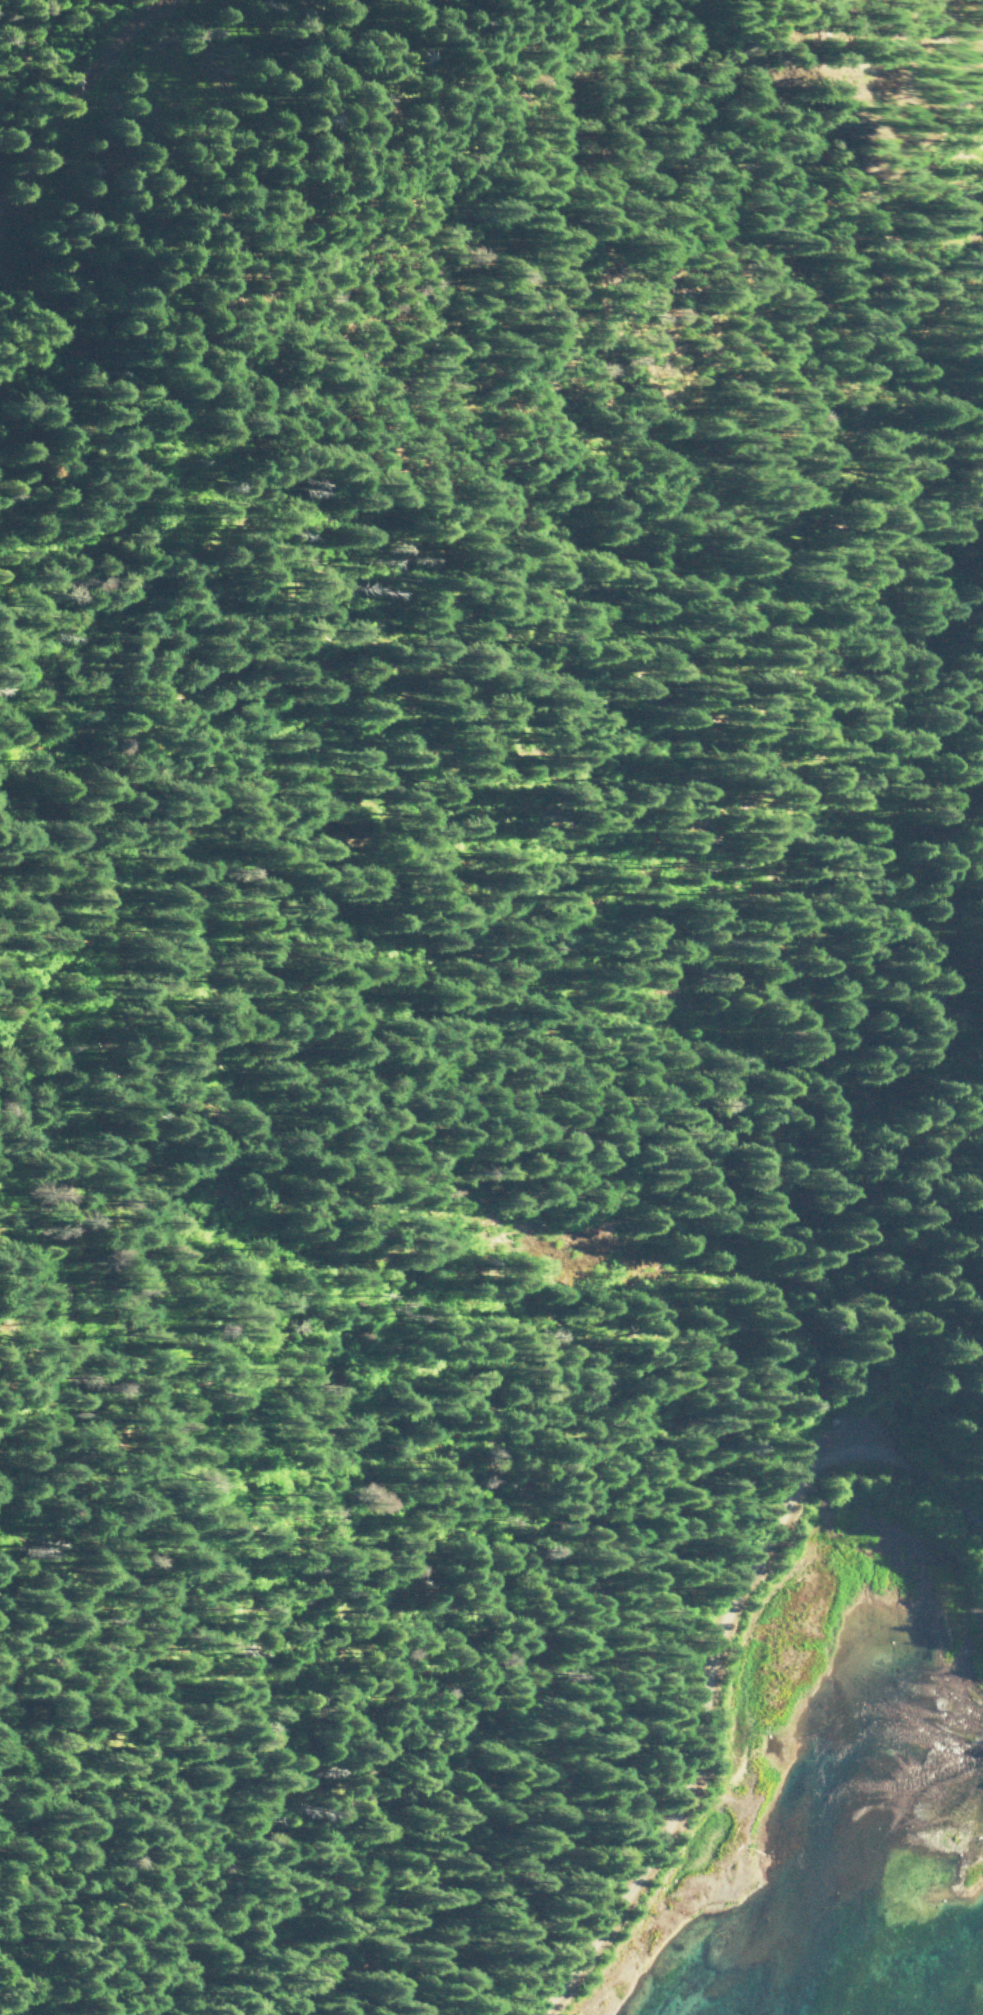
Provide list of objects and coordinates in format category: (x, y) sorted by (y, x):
road: (63, 92)
road: (937, 1221)
road: (876, 1330)
parking lot: (853, 1441)
road: (658, 1591)
road: (705, 1647)
river: (841, 1889)

